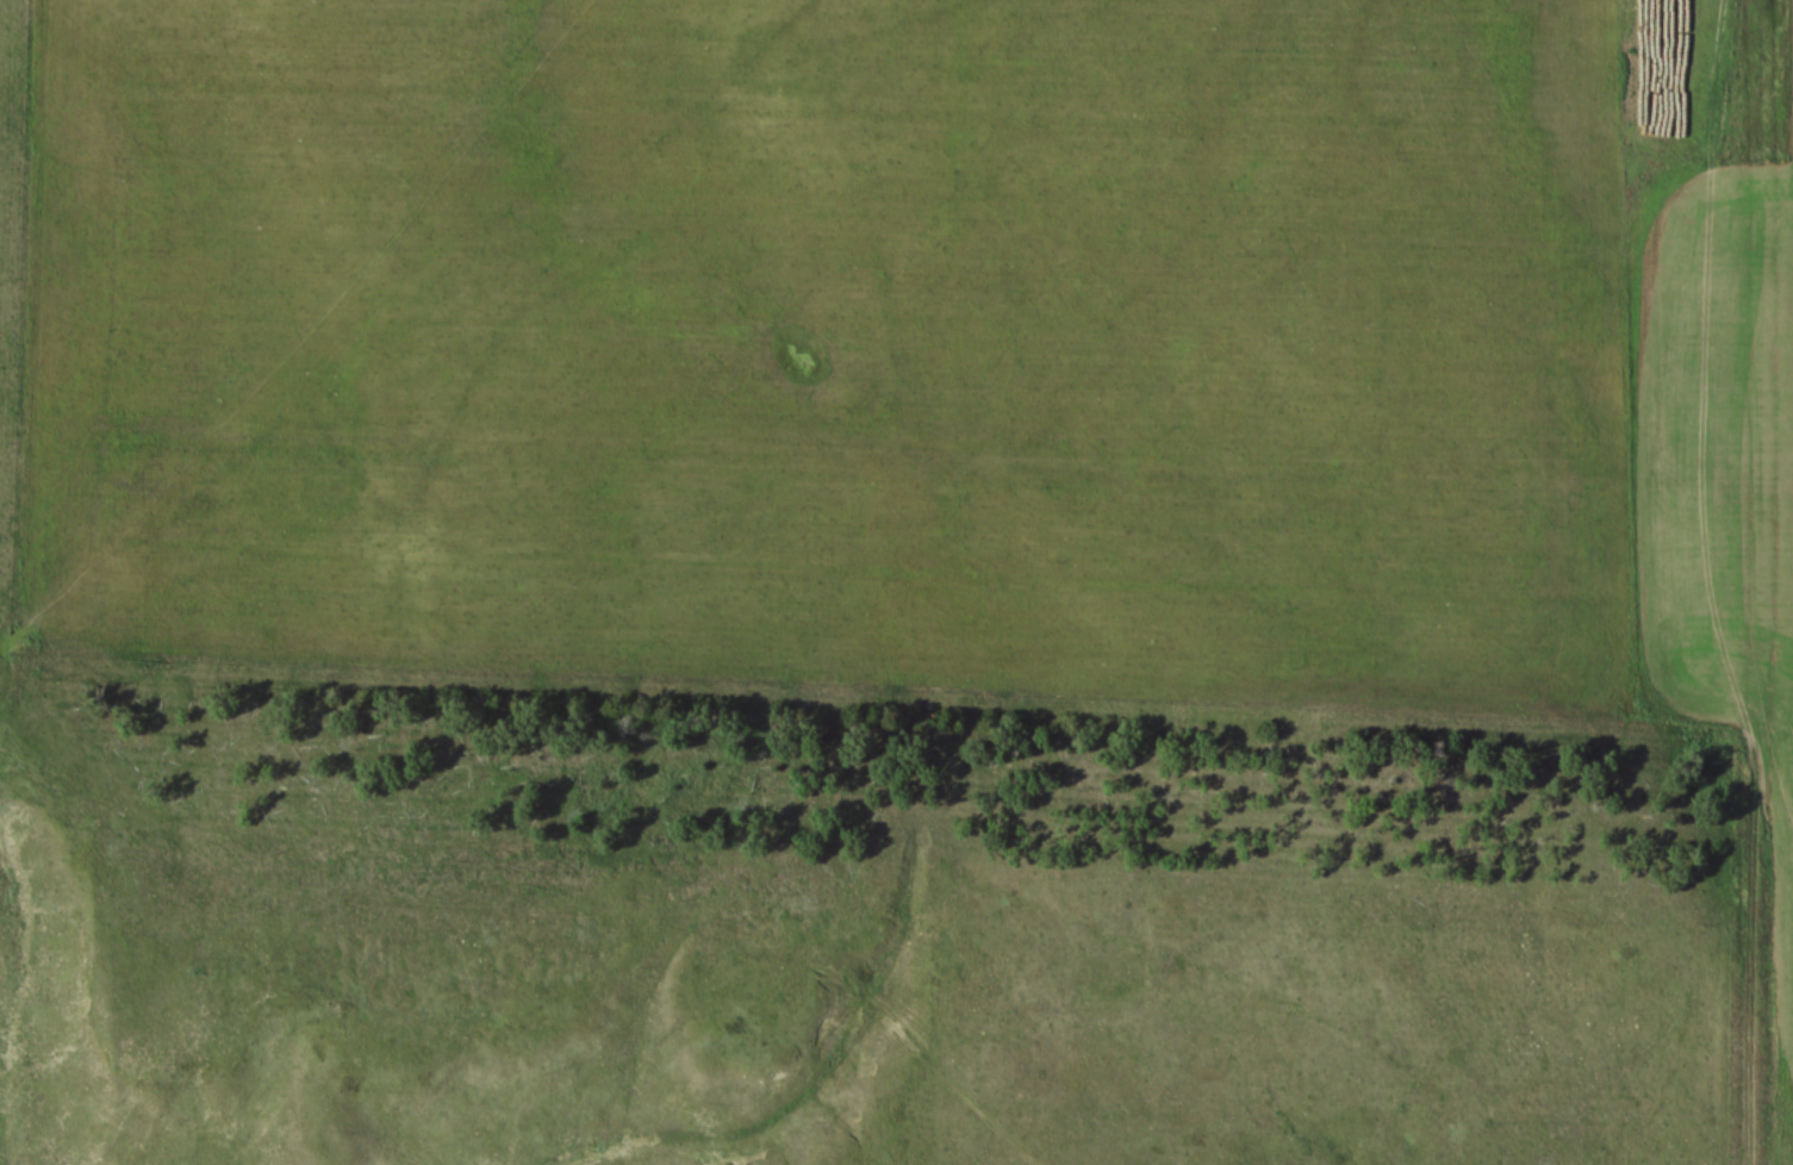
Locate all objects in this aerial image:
road: (1767, 582)

